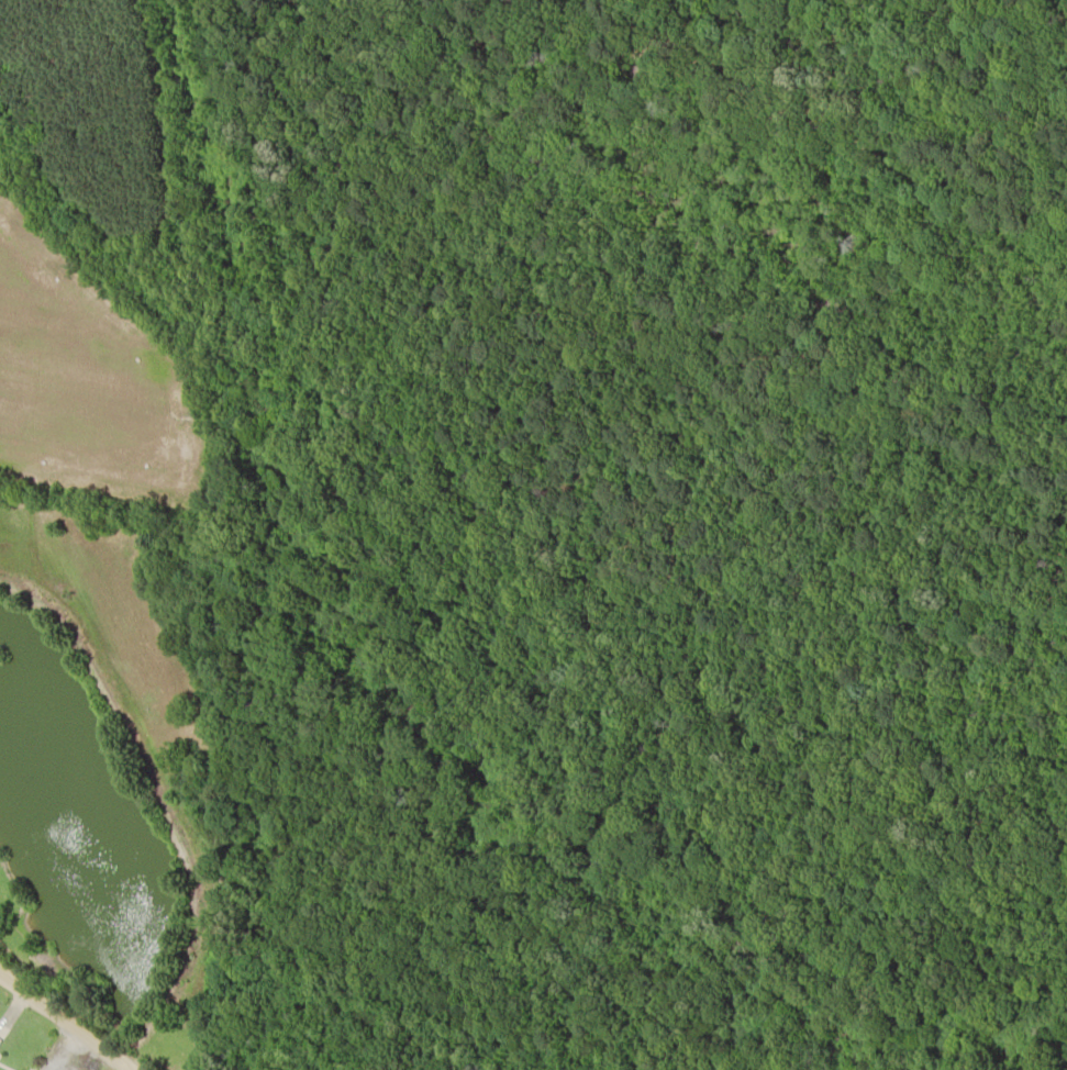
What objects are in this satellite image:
road: (82, 1023)

